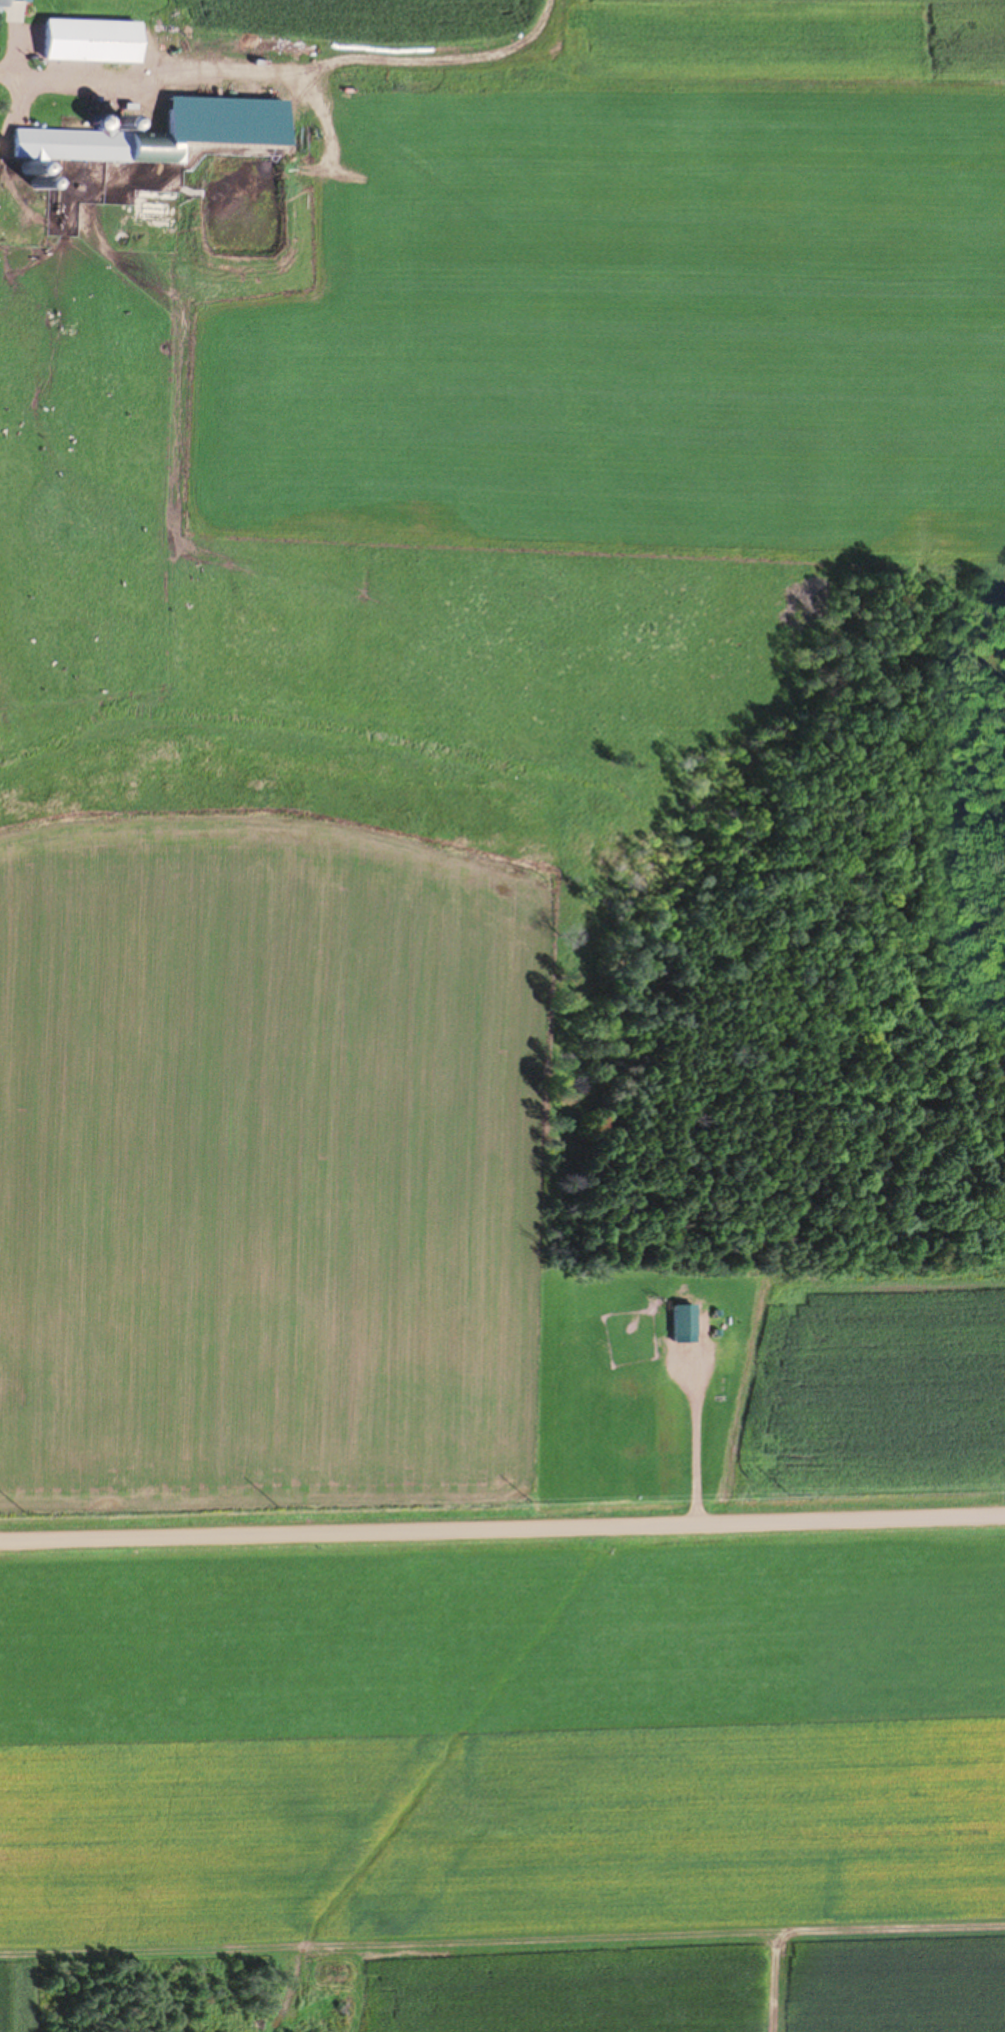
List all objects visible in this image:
building: (12, 10)
building: (89, 39)
building: (92, 144)
building: (154, 207)
building: (681, 1319)
road: (502, 1528)

